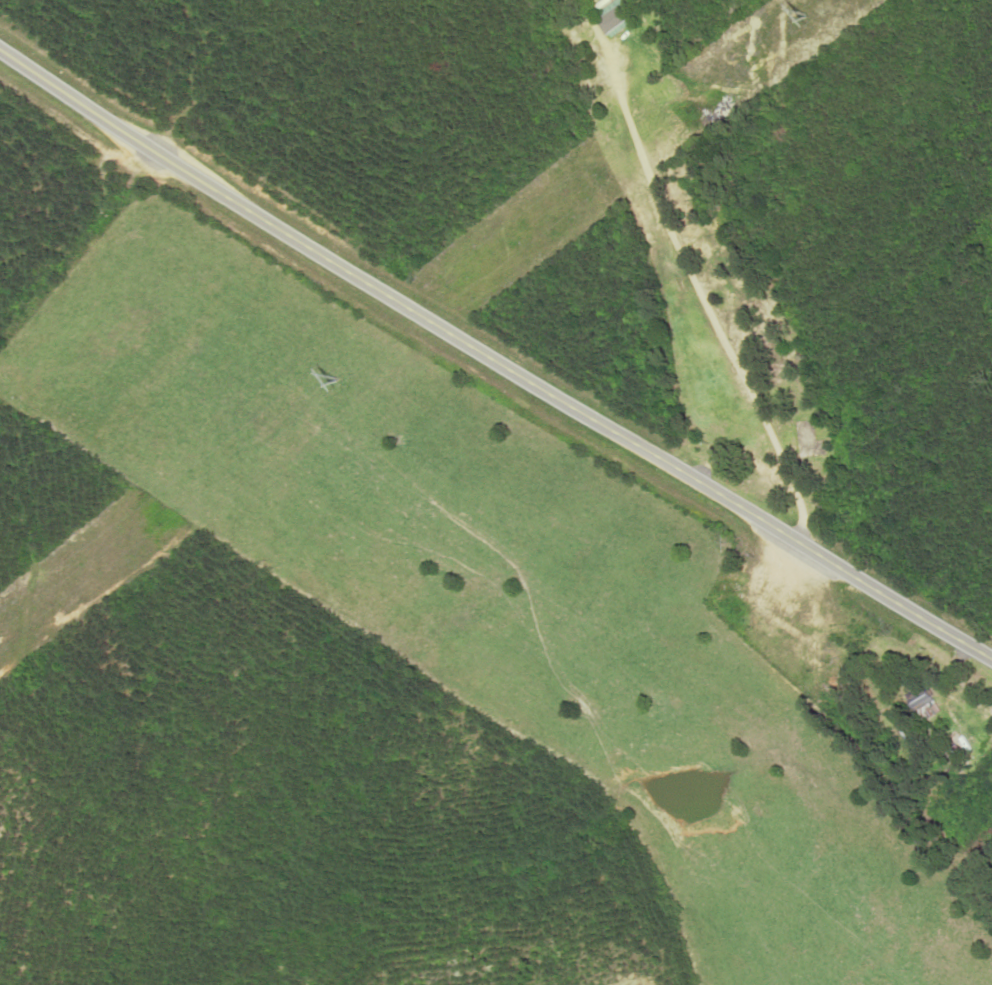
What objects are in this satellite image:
power tower: (813, 16)
building: (620, 21)
road: (493, 361)
power tower: (337, 379)
building: (724, 415)
building: (796, 602)
building: (830, 658)
building: (931, 705)
building: (914, 739)

